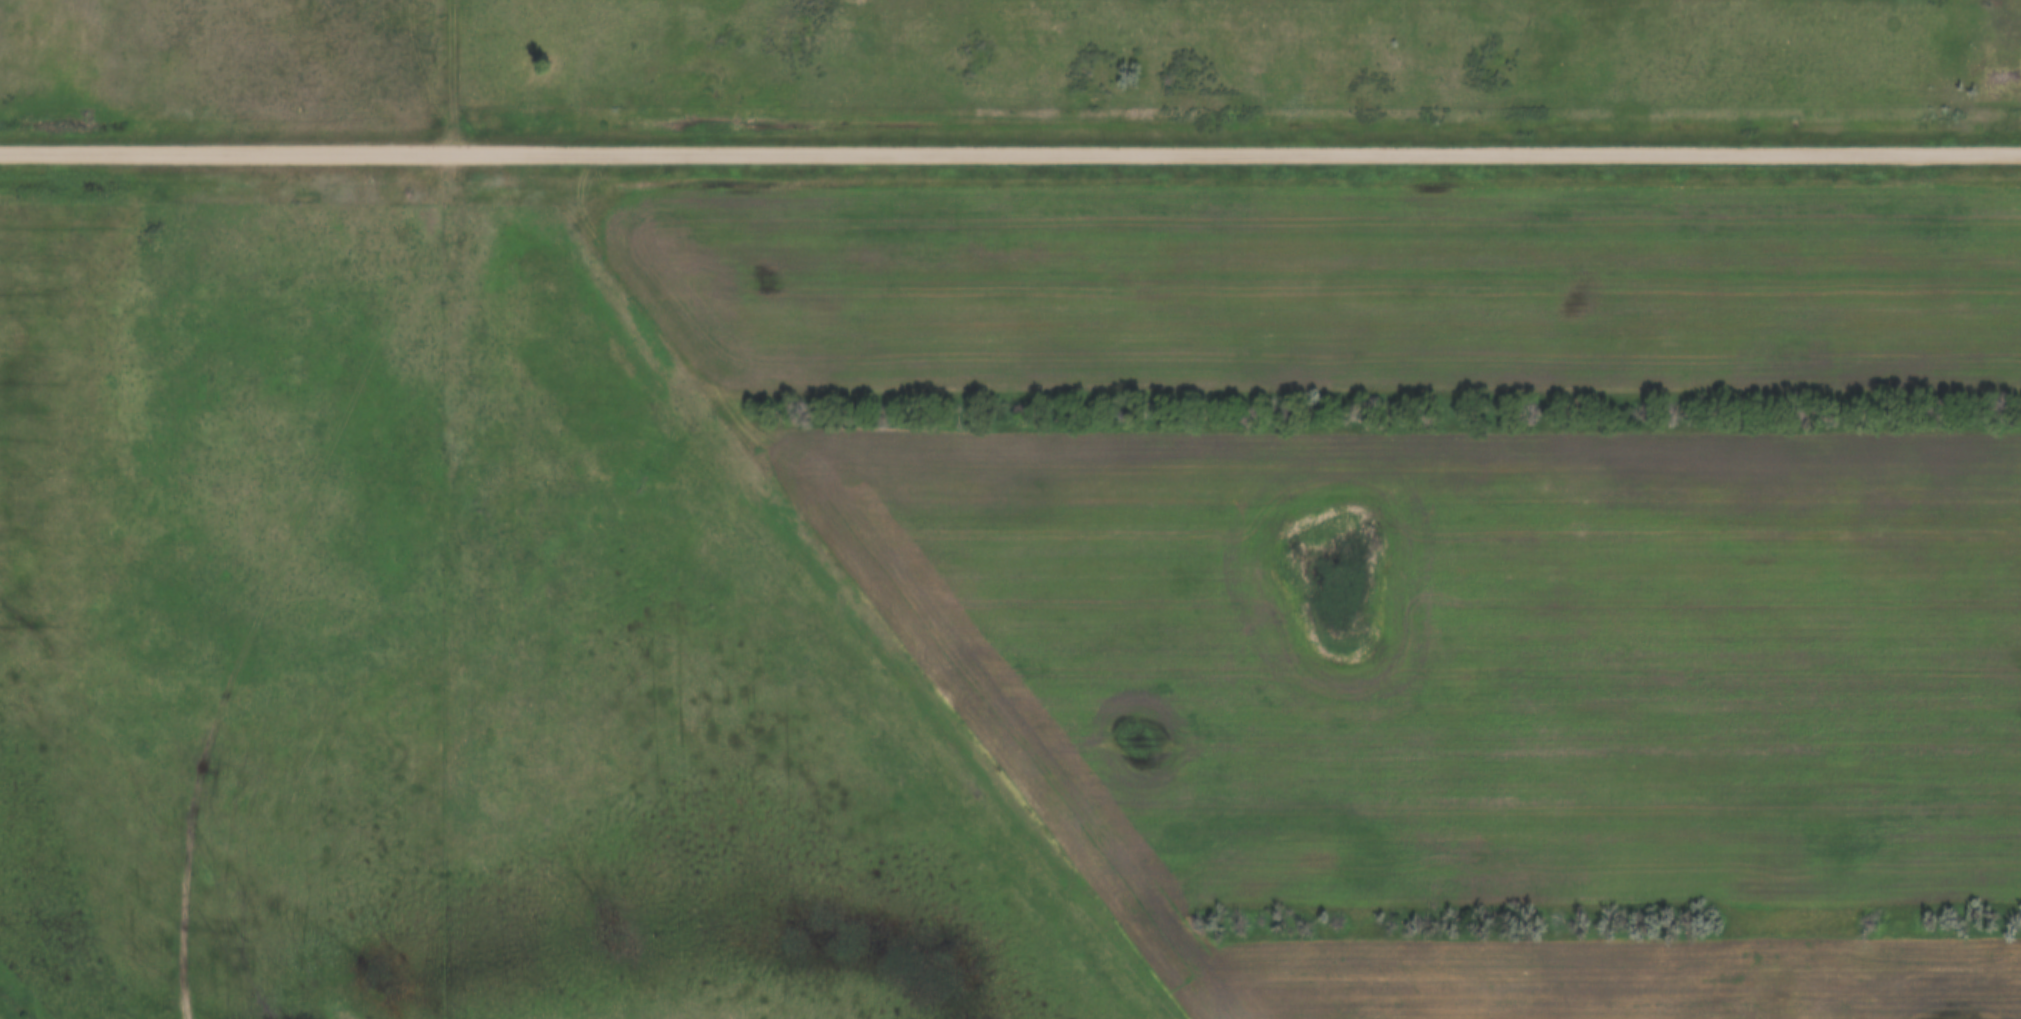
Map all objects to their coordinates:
road: (1010, 149)

